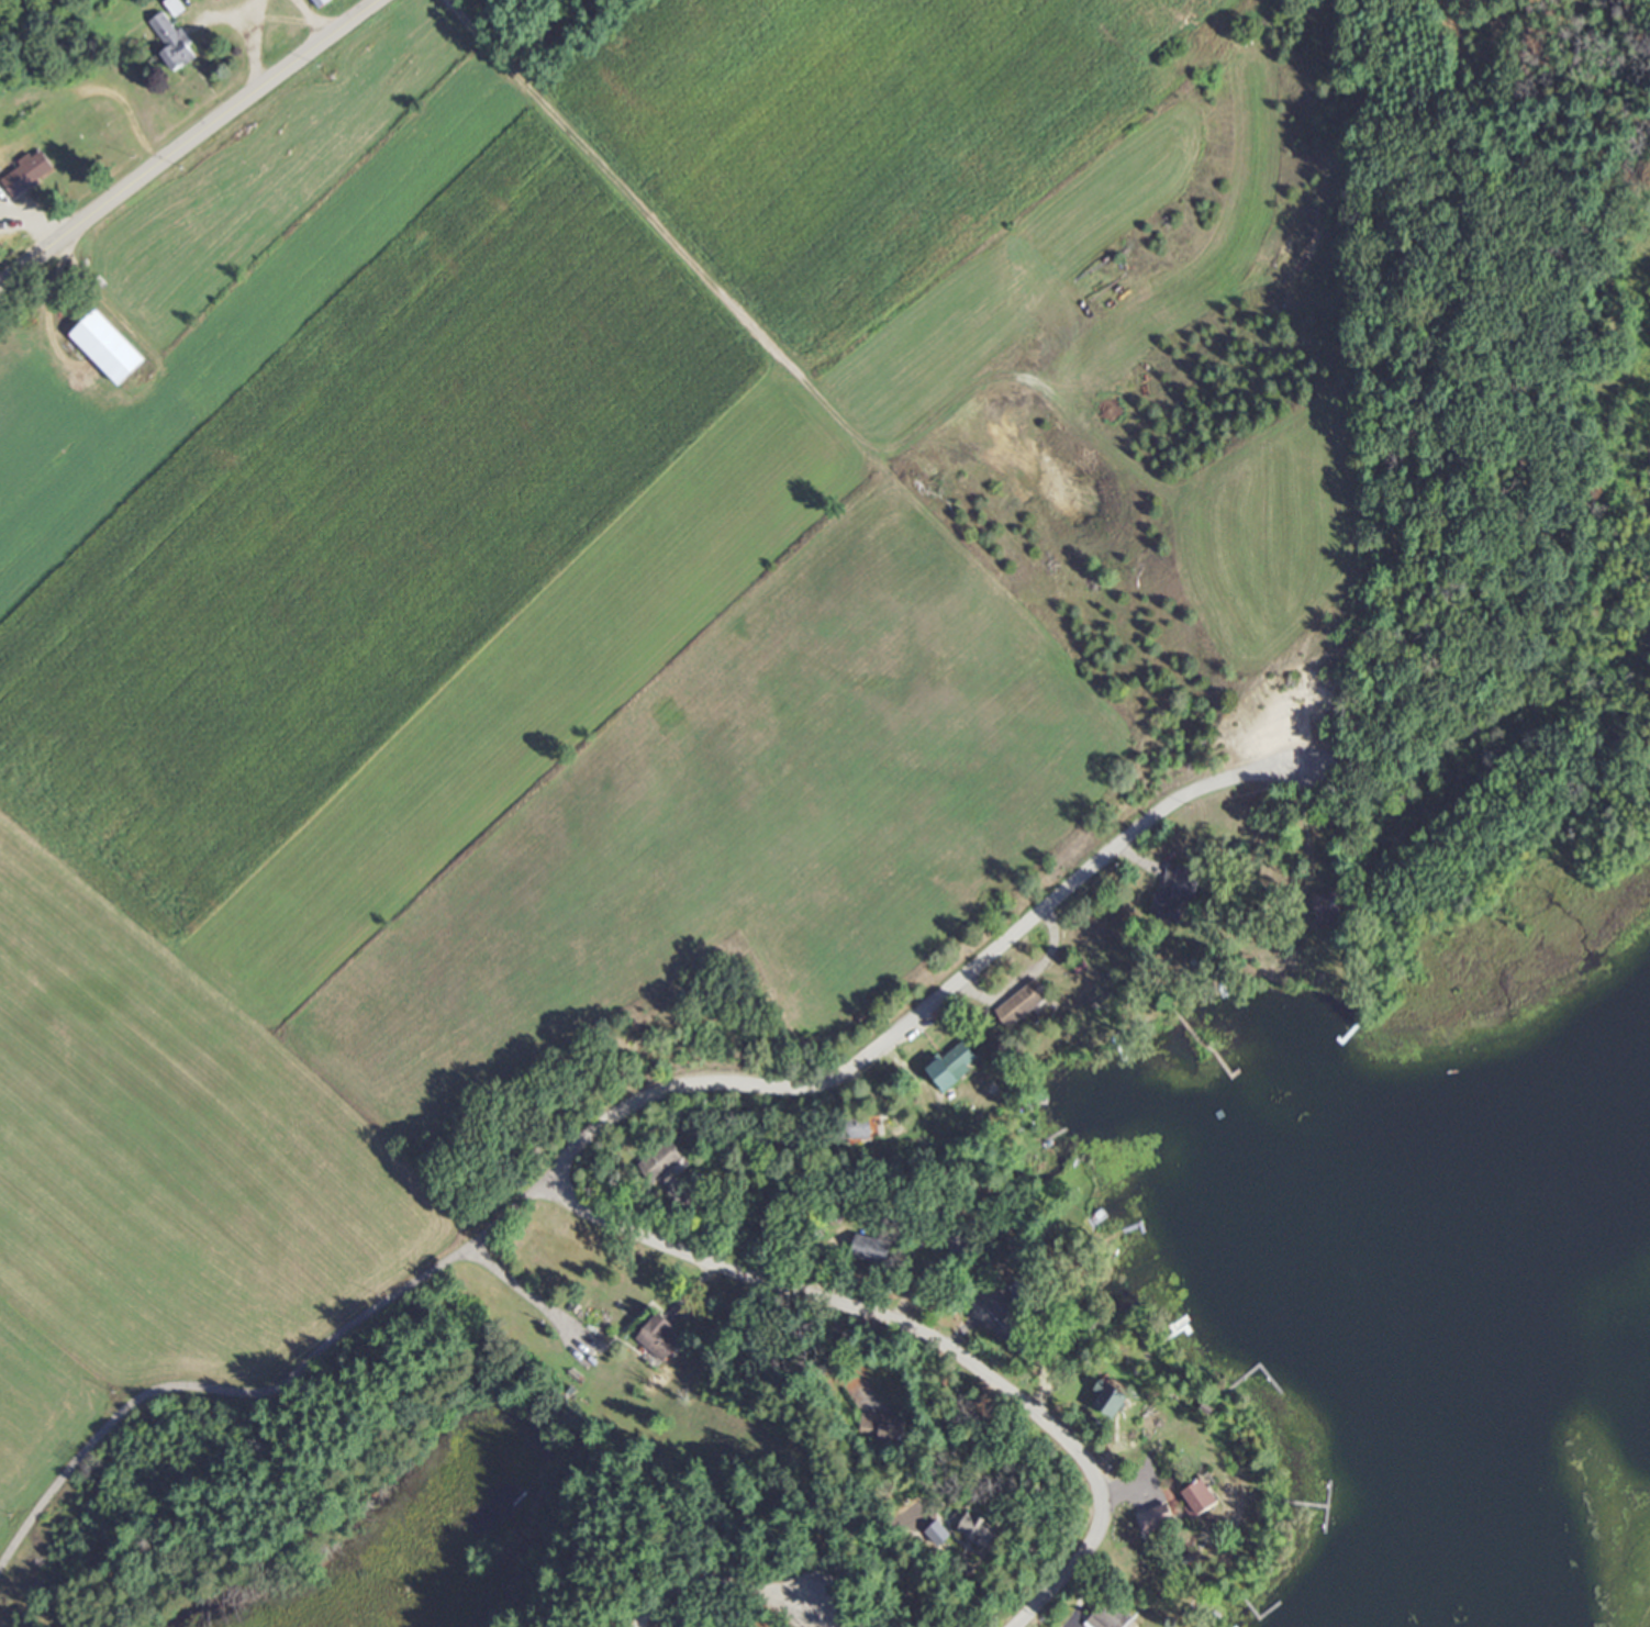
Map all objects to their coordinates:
building: (317, 2)
building: (169, 41)
road: (186, 138)
building: (27, 169)
road: (286, 280)
building: (104, 347)
building: (1171, 891)
building: (1323, 909)
building: (1019, 1003)
road: (1092, 1035)
building: (950, 1066)
building: (857, 1128)
building: (666, 1162)
building: (867, 1249)
building: (1003, 1305)
building: (656, 1337)
road: (287, 1390)
building: (876, 1429)
building: (1197, 1496)
building: (1155, 1516)
building: (978, 1526)
road: (1089, 1579)
building: (1106, 1615)
road: (765, 1619)

